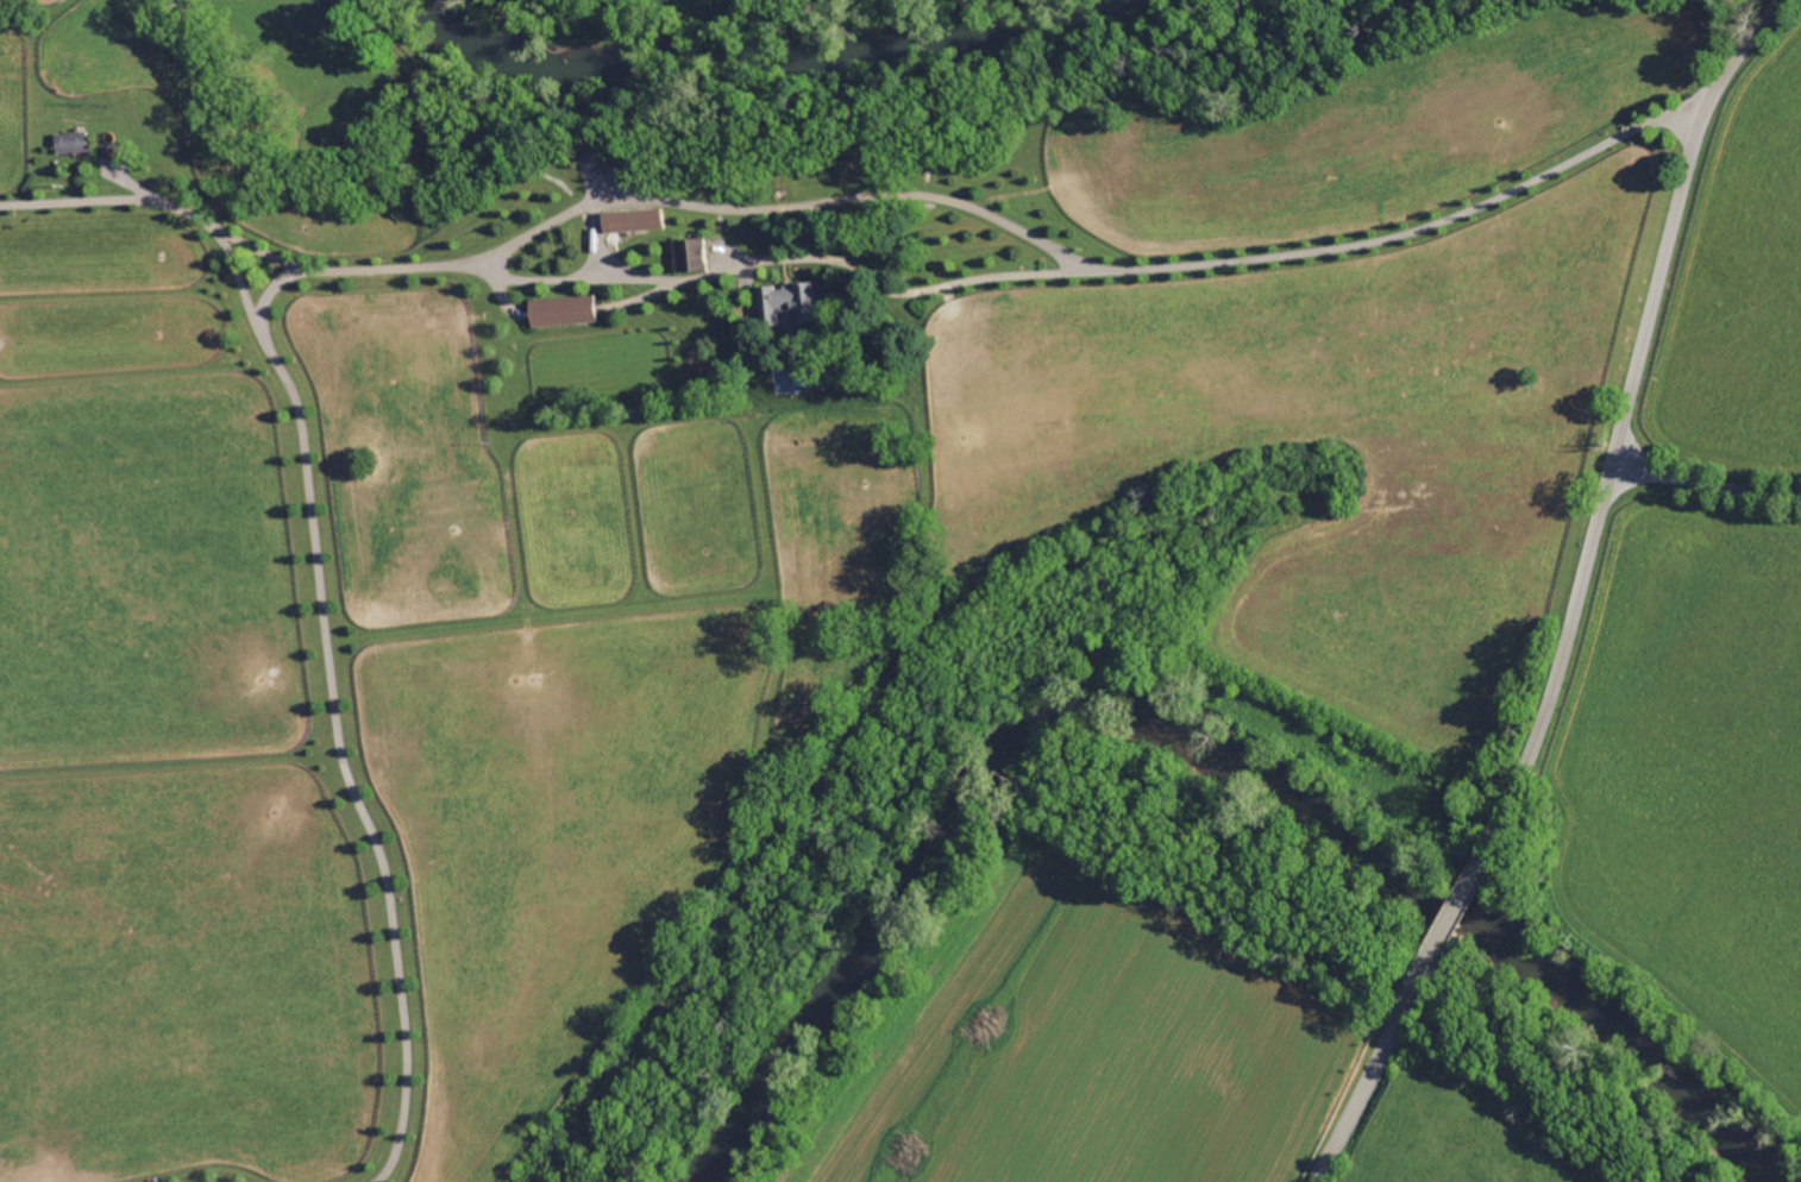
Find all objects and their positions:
building: (67, 143)
road: (149, 203)
road: (789, 207)
building: (630, 220)
road: (596, 243)
building: (686, 254)
road: (996, 277)
building: (783, 301)
building: (560, 310)
road: (1627, 411)
road: (1705, 499)
road: (338, 717)
road: (1466, 895)
road: (1382, 1068)

